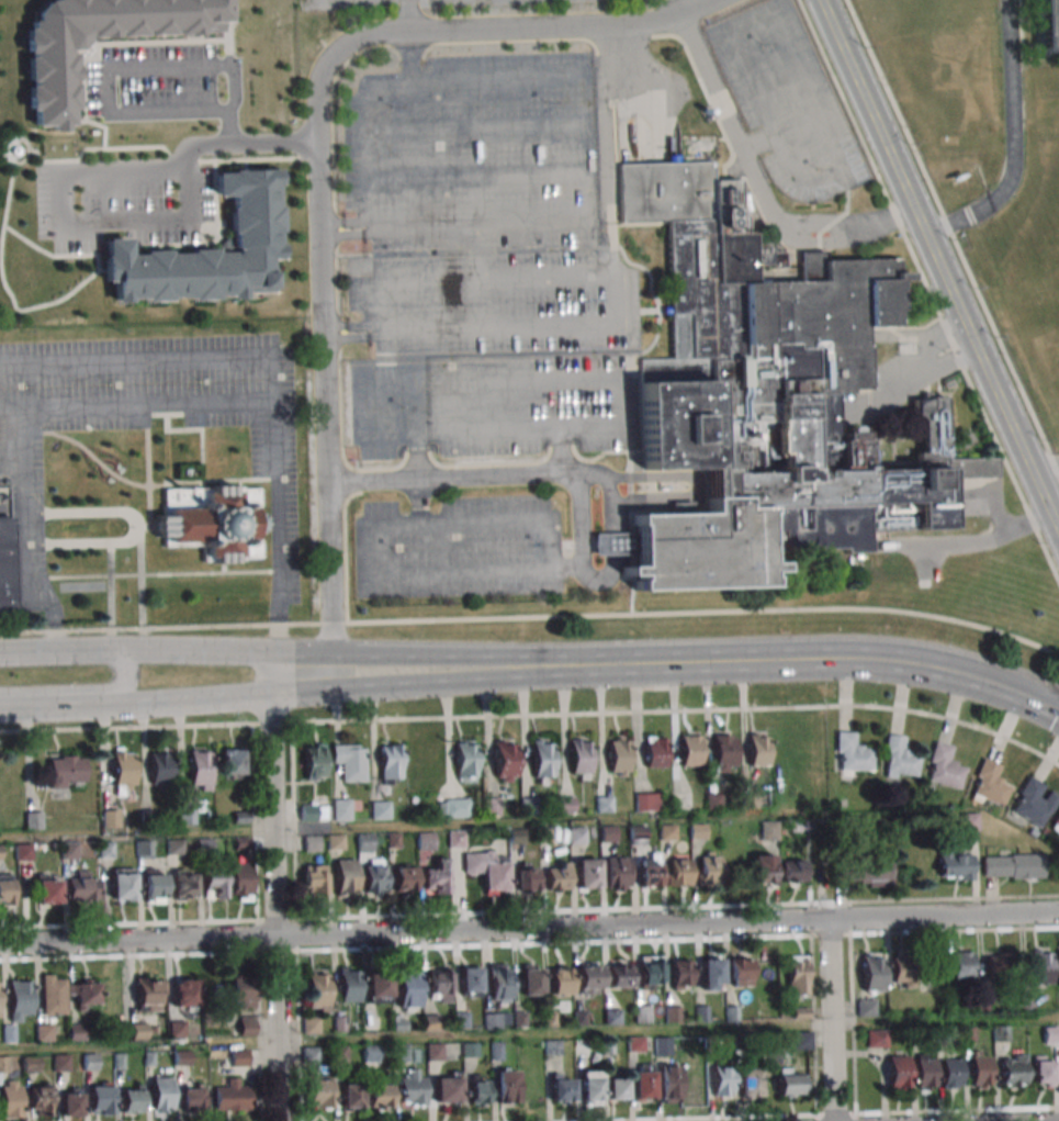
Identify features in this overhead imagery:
building: (1049, 24)
road: (733, 26)
road: (226, 40)
road: (97, 45)
road: (570, 74)
building: (49, 79)
parking lot: (160, 83)
parking lot: (788, 101)
road: (105, 111)
road: (874, 121)
road: (474, 127)
road: (225, 128)
road: (15, 142)
road: (757, 142)
road: (1010, 142)
road: (243, 145)
road: (102, 148)
building: (14, 150)
parking lot: (473, 153)
road: (319, 156)
road: (869, 157)
road: (13, 158)
road: (23, 159)
road: (475, 176)
road: (755, 186)
road: (8, 194)
parking lot: (120, 202)
road: (68, 226)
road: (387, 229)
road: (0, 235)
building: (206, 250)
road: (480, 254)
road: (99, 271)
road: (89, 276)
road: (471, 281)
road: (615, 288)
parking lot: (491, 303)
road: (391, 333)
road: (959, 334)
road: (384, 359)
road: (268, 372)
road: (904, 375)
road: (994, 388)
building: (766, 397)
parking lot: (487, 405)
road: (135, 406)
road: (165, 414)
parking lot: (146, 425)
road: (200, 430)
road: (359, 436)
road: (999, 448)
road: (561, 453)
road: (416, 457)
road: (100, 464)
road: (1044, 464)
road: (578, 473)
road: (10, 474)
road: (147, 477)
road: (447, 478)
road: (573, 479)
road: (216, 481)
road: (694, 487)
parking lot: (3, 501)
road: (417, 503)
road: (1, 508)
road: (988, 508)
building: (212, 523)
road: (996, 523)
road: (134, 527)
road: (145, 527)
road: (364, 528)
road: (23, 536)
road: (964, 546)
parking lot: (458, 548)
road: (927, 562)
road: (608, 563)
building: (5, 567)
road: (566, 569)
road: (159, 574)
road: (143, 576)
road: (111, 584)
road: (706, 612)
road: (171, 626)
road: (55, 651)
road: (348, 653)
road: (825, 659)
road: (292, 684)
road: (81, 691)
building: (690, 750)
building: (758, 750)
building: (724, 752)
building: (853, 752)
building: (656, 753)
building: (619, 754)
building: (901, 756)
building: (581, 758)
building: (542, 760)
building: (315, 761)
building: (349, 761)
building: (505, 761)
building: (230, 762)
building: (465, 762)
building: (390, 763)
building: (944, 765)
building: (200, 769)
building: (160, 770)
building: (66, 772)
building: (123, 773)
building: (990, 783)
building: (748, 799)
building: (712, 800)
building: (646, 801)
building: (1034, 801)
building: (604, 804)
building: (566, 805)
building: (529, 806)
building: (458, 808)
building: (491, 808)
building: (340, 809)
building: (380, 809)
building: (307, 812)
building: (110, 817)
road: (486, 821)
building: (970, 821)
building: (1056, 821)
building: (769, 830)
building: (636, 834)
building: (577, 836)
building: (455, 839)
building: (425, 840)
building: (335, 842)
building: (364, 842)
building: (312, 843)
building: (144, 849)
building: (0, 852)
building: (956, 865)
road: (826, 866)
building: (1014, 866)
building: (709, 868)
building: (764, 868)
building: (487, 871)
building: (649, 871)
building: (617, 872)
building: (678, 872)
building: (795, 872)
building: (863, 872)
building: (587, 874)
building: (373, 875)
building: (526, 876)
building: (556, 876)
building: (314, 878)
building: (345, 878)
building: (436, 878)
building: (404, 879)
building: (214, 882)
building: (240, 882)
building: (122, 885)
building: (183, 885)
building: (82, 887)
building: (155, 887)
road: (273, 887)
building: (47, 889)
building: (5, 892)
road: (529, 929)
building: (962, 965)
building: (1002, 965)
building: (1041, 966)
building: (1058, 968)
building: (651, 969)
building: (712, 972)
building: (742, 972)
building: (903, 972)
building: (620, 973)
building: (683, 973)
building: (874, 974)
building: (589, 976)
building: (798, 976)
building: (499, 980)
building: (531, 980)
building: (561, 980)
building: (470, 982)
building: (439, 984)
building: (348, 985)
building: (378, 989)
building: (317, 990)
building: (408, 990)
building: (183, 991)
building: (240, 991)
building: (54, 994)
building: (86, 995)
building: (150, 995)
building: (20, 1000)
building: (866, 1007)
building: (642, 1013)
building: (613, 1017)
building: (461, 1019)
building: (492, 1020)
road: (831, 1020)
building: (311, 1024)
building: (399, 1024)
road: (667, 1027)
building: (76, 1031)
building: (9, 1032)
building: (44, 1032)
building: (1001, 1032)
building: (876, 1038)
building: (801, 1039)
building: (662, 1045)
road: (68, 1046)
building: (553, 1047)
building: (470, 1050)
building: (496, 1051)
building: (433, 1052)
building: (370, 1053)
building: (399, 1053)
building: (775, 1053)
building: (311, 1055)
building: (30, 1062)
building: (981, 1068)
building: (1044, 1070)
building: (898, 1072)
building: (925, 1072)
building: (1014, 1072)
building: (951, 1073)
building: (696, 1079)
building: (722, 1079)
building: (669, 1080)
building: (789, 1081)
building: (748, 1084)
building: (643, 1085)
building: (590, 1086)
building: (413, 1087)
building: (448, 1087)
building: (506, 1088)
building: (561, 1088)
building: (480, 1089)
building: (617, 1089)
building: (318, 1092)
building: (380, 1092)
building: (161, 1094)
building: (232, 1095)
building: (351, 1096)
building: (191, 1097)
building: (11, 1098)
building: (132, 1098)
building: (100, 1099)
building: (40, 1100)
building: (70, 1101)

